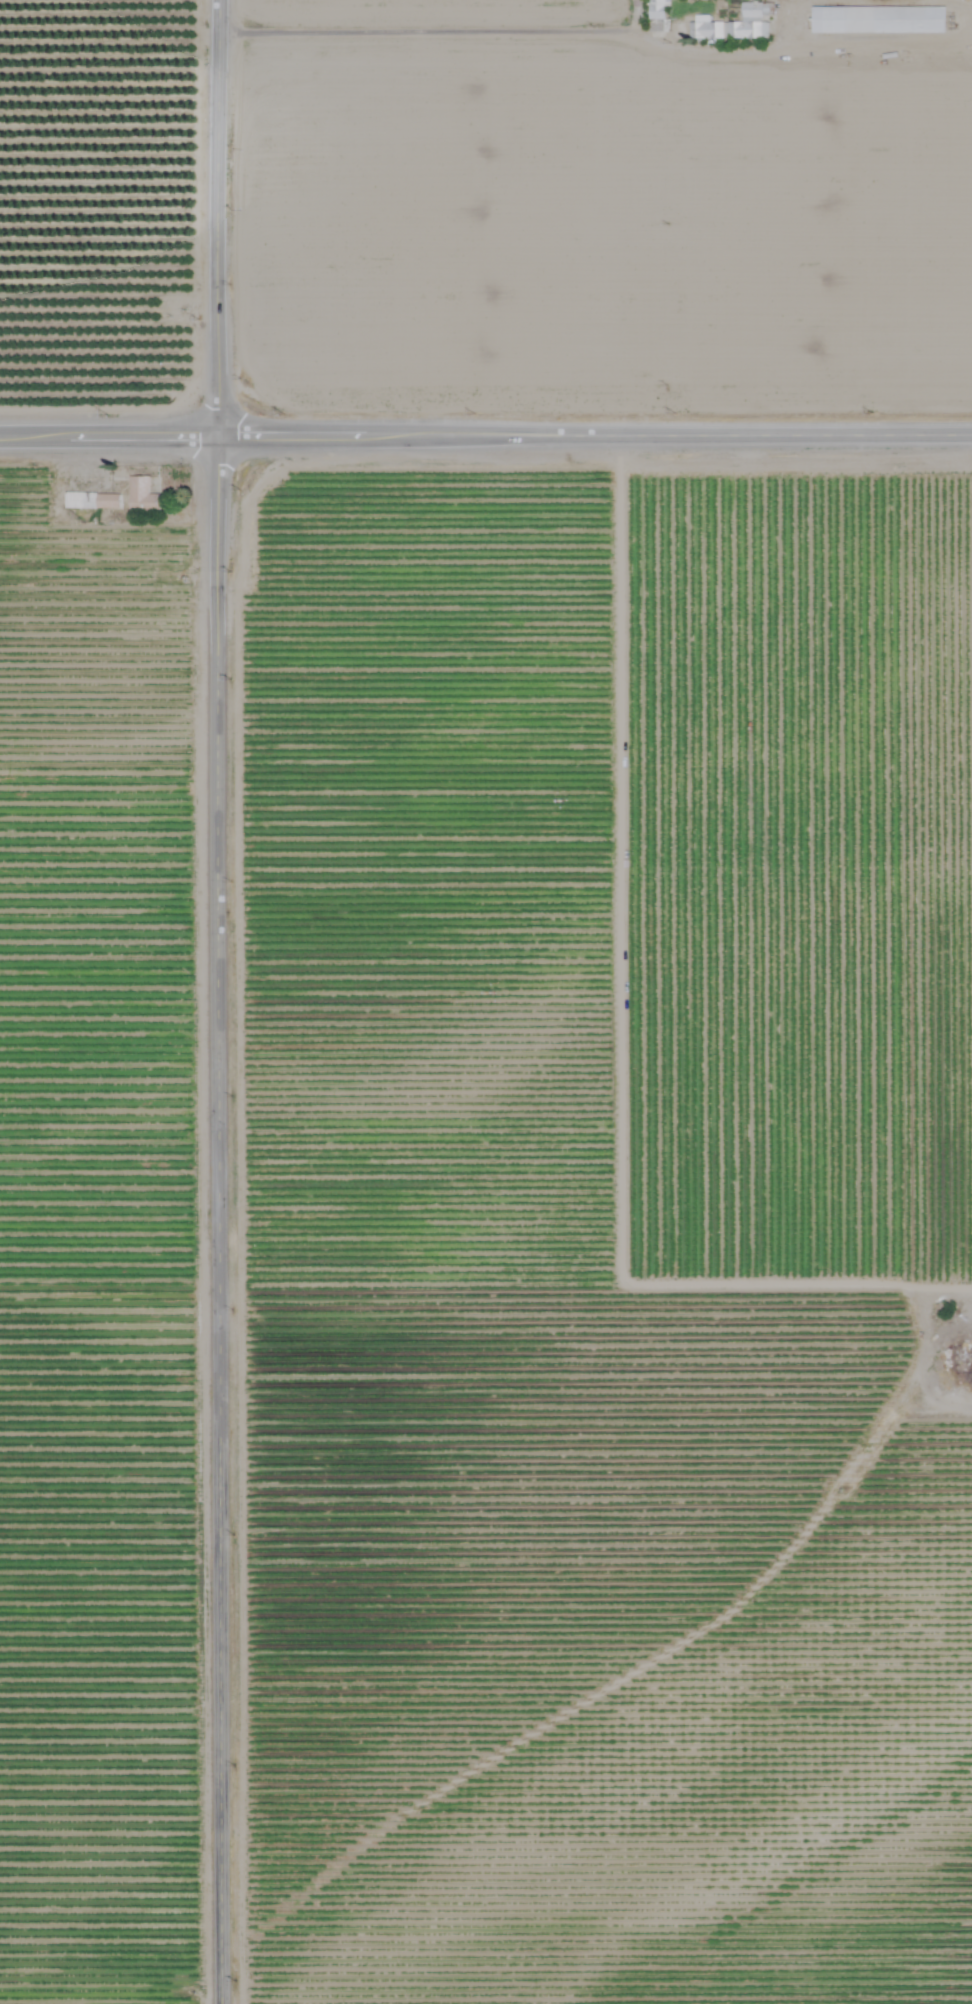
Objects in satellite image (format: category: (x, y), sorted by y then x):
building: (654, 16)
building: (874, 21)
building: (729, 26)
road: (420, 38)
road: (798, 47)
road: (485, 436)
building: (136, 479)
building: (147, 501)
road: (219, 1001)

